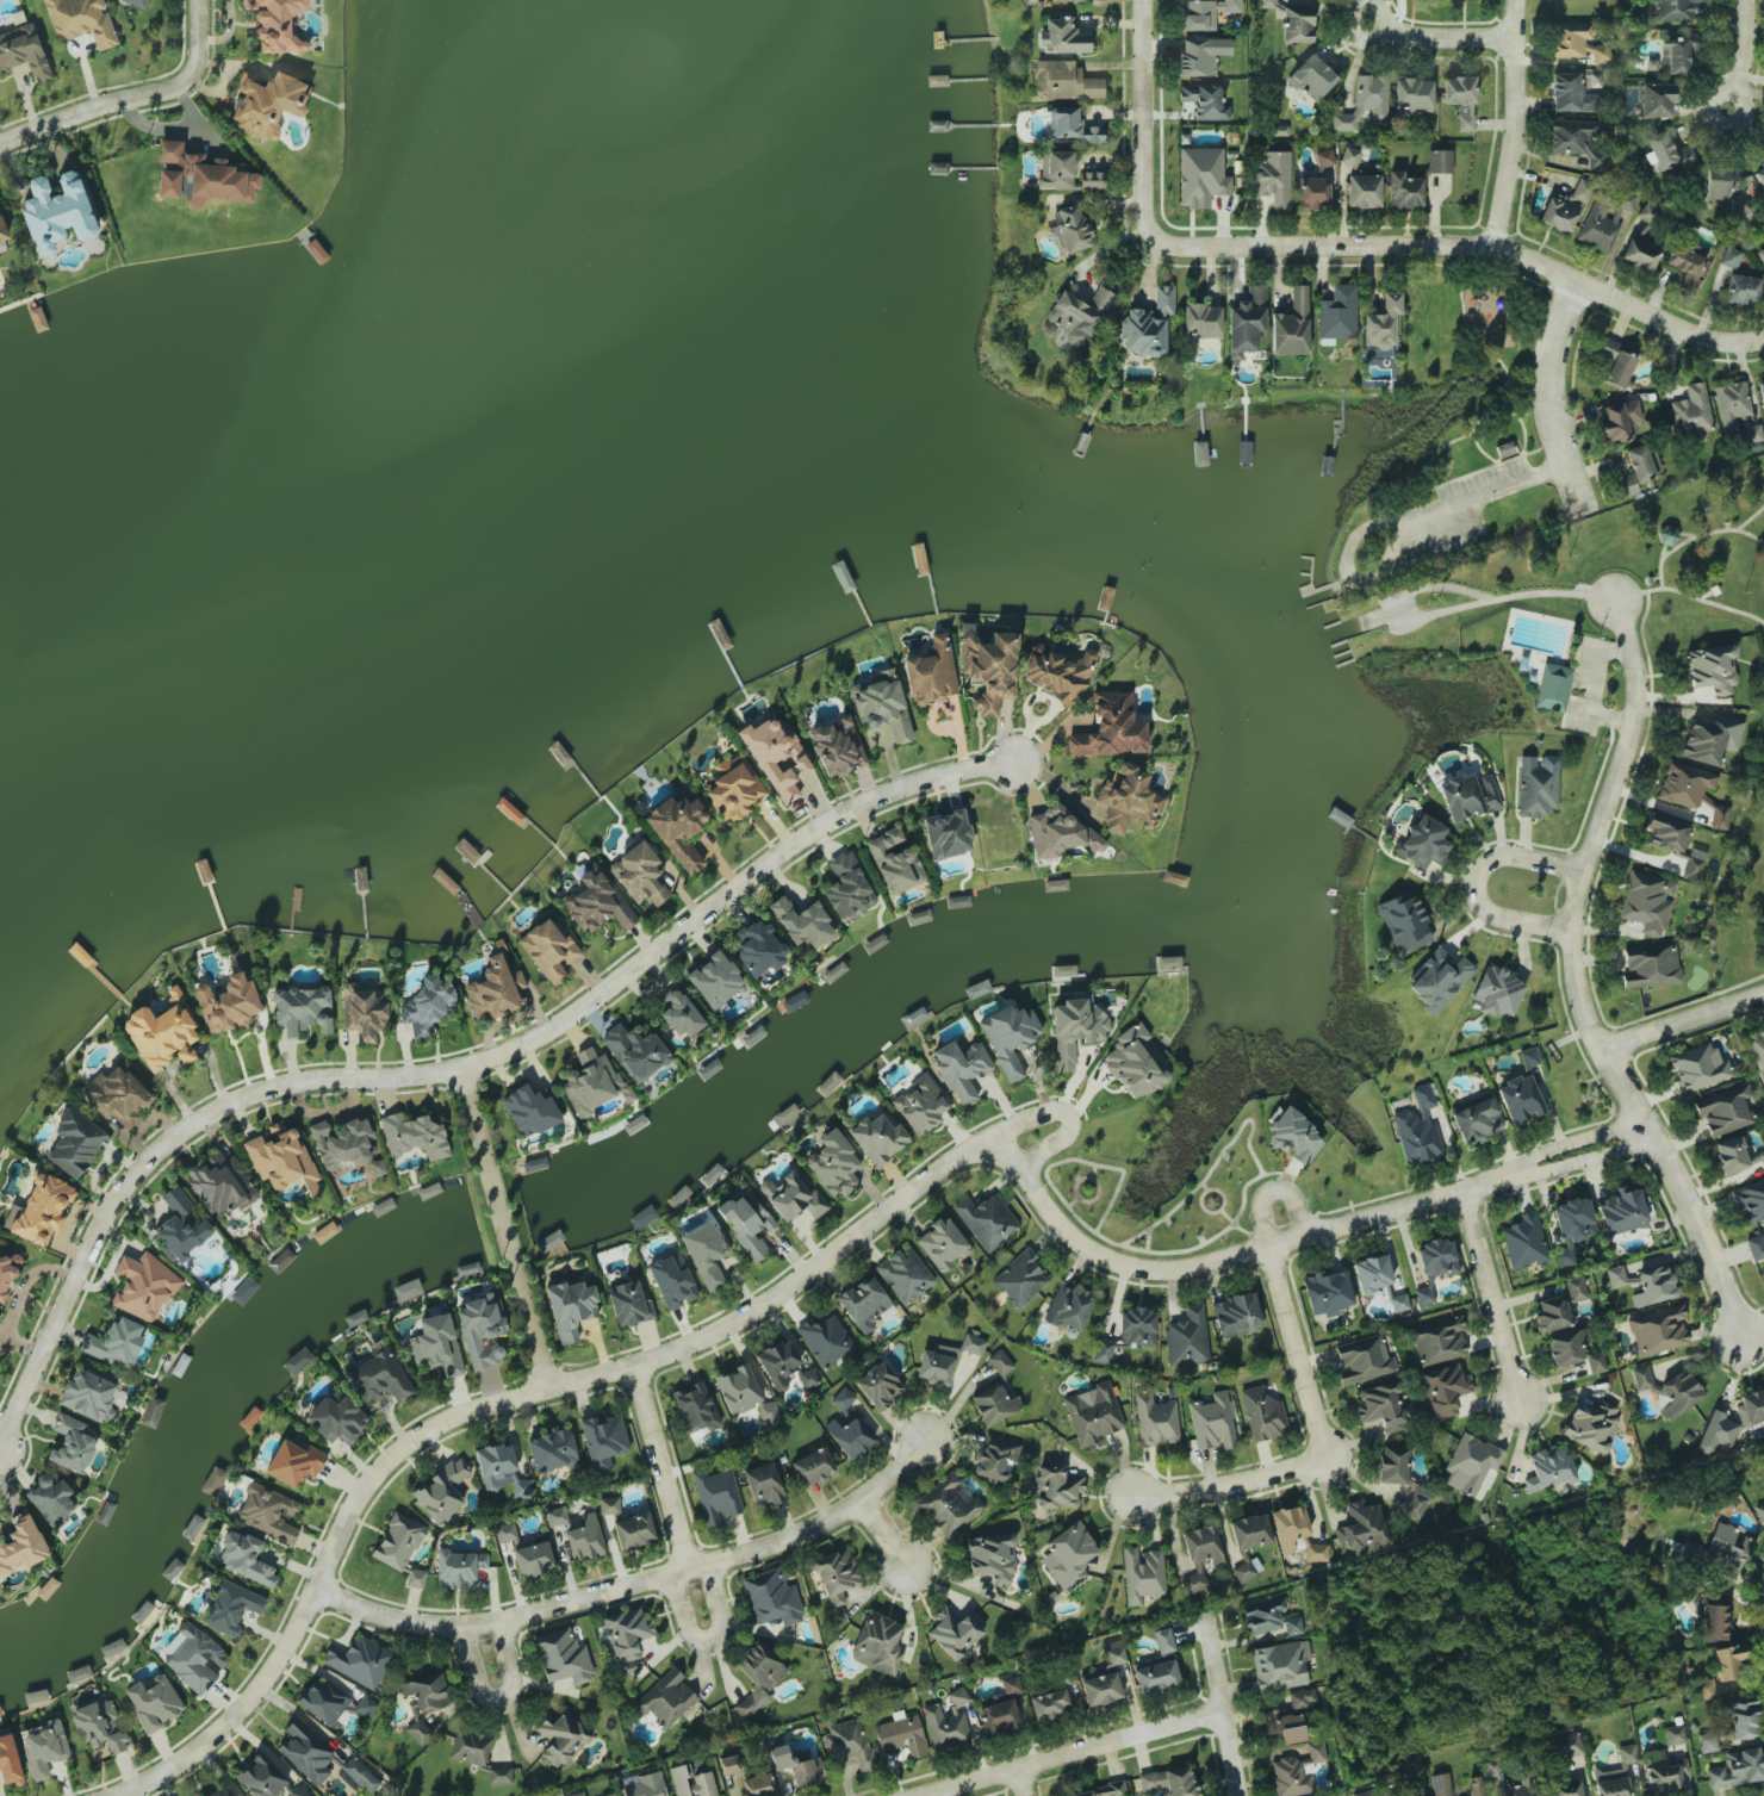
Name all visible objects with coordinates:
building: (1068, 0)
building: (136, 2)
building: (1266, 4)
building: (1675, 10)
building: (1206, 12)
road: (1380, 15)
building: (81, 20)
building: (1297, 23)
building: (277, 24)
building: (1062, 36)
road: (1447, 38)
building: (1577, 43)
road: (1743, 48)
building: (23, 52)
building: (1201, 54)
building: (1675, 56)
building: (1311, 77)
building: (1064, 81)
building: (1369, 94)
building: (1412, 94)
road: (1722, 95)
road: (131, 98)
building: (1460, 99)
building: (1657, 100)
building: (1204, 101)
building: (268, 104)
road: (1141, 105)
building: (1343, 122)
building: (1072, 125)
road: (1509, 125)
building: (1670, 153)
building: (1350, 155)
building: (1323, 157)
building: (1759, 174)
building: (1201, 176)
building: (1273, 176)
building: (200, 178)
building: (1091, 180)
building: (1720, 185)
building: (1364, 191)
building: (1404, 191)
building: (1312, 192)
building: (1565, 206)
building: (57, 213)
building: (1598, 228)
building: (1070, 229)
building: (2, 231)
road: (1451, 246)
building: (1760, 254)
building: (1639, 255)
building: (1731, 257)
building: (1687, 265)
building: (1741, 290)
building: (1076, 315)
building: (1336, 315)
building: (1201, 321)
building: (1246, 322)
building: (1383, 323)
building: (1149, 324)
building: (1291, 325)
building: (1616, 363)
building: (1760, 391)
road: (1546, 396)
building: (1691, 410)
building: (1735, 410)
building: (1620, 421)
building: (1640, 467)
road: (1484, 492)
road: (1750, 518)
road: (1695, 537)
road: (1688, 597)
road: (1458, 605)
building: (964, 632)
building: (989, 669)
building: (1712, 669)
building: (933, 673)
building: (1061, 673)
road: (1595, 677)
building: (1553, 686)
building: (882, 704)
building: (950, 708)
road: (1609, 720)
building: (1112, 728)
building: (1709, 741)
building: (839, 746)
building: (777, 758)
building: (734, 790)
building: (1691, 791)
building: (1468, 796)
building: (1129, 797)
building: (681, 828)
building: (1061, 833)
building: (948, 834)
building: (1000, 840)
building: (1424, 843)
building: (1675, 843)
building: (896, 860)
building: (638, 871)
road: (1476, 882)
building: (850, 889)
road: (723, 893)
building: (1647, 901)
building: (597, 903)
building: (803, 922)
building: (1404, 922)
building: (757, 947)
building: (548, 951)
building: (1651, 965)
building: (714, 980)
building: (1439, 980)
building: (492, 990)
building: (1497, 992)
road: (1578, 992)
building: (795, 1000)
building: (229, 1003)
building: (429, 1005)
road: (1676, 1007)
building: (302, 1009)
building: (364, 1014)
building: (683, 1015)
road: (1681, 1021)
building: (1076, 1028)
building: (163, 1032)
building: (1010, 1037)
building: (638, 1052)
building: (1136, 1062)
building: (1697, 1067)
building: (961, 1070)
building: (831, 1080)
building: (595, 1082)
building: (123, 1093)
building: (1523, 1093)
building: (1423, 1098)
building: (919, 1105)
building: (532, 1110)
building: (1723, 1110)
road: (1066, 1115)
building: (1479, 1119)
building: (1294, 1135)
building: (1417, 1135)
building: (416, 1137)
building: (876, 1141)
building: (338, 1144)
building: (76, 1148)
building: (1735, 1155)
road: (150, 1157)
building: (282, 1163)
building: (834, 1164)
building: (378, 1167)
building: (220, 1183)
road: (1273, 1188)
building: (430, 1189)
building: (678, 1195)
building: (794, 1199)
building: (45, 1211)
building: (1623, 1213)
building: (642, 1217)
building: (987, 1220)
building: (746, 1224)
building: (181, 1226)
building: (1572, 1226)
road: (503, 1230)
road: (1297, 1236)
building: (548, 1241)
building: (1523, 1243)
building: (943, 1244)
building: (1756, 1247)
building: (706, 1255)
building: (1437, 1256)
building: (281, 1260)
building: (7, 1274)
building: (1373, 1274)
building: (905, 1275)
building: (1019, 1279)
building: (672, 1281)
building: (1644, 1284)
building: (144, 1287)
building: (244, 1289)
building: (406, 1289)
building: (1330, 1292)
building: (1426, 1293)
road: (1491, 1295)
building: (631, 1304)
building: (865, 1304)
building: (1070, 1307)
building: (571, 1309)
building: (1560, 1309)
building: (0, 1313)
building: (1236, 1315)
building: (1138, 1326)
building: (1660, 1329)
building: (480, 1332)
building: (1187, 1337)
building: (827, 1340)
building: (1437, 1341)
building: (114, 1344)
building: (973, 1344)
building: (436, 1347)
building: (1102, 1350)
building: (1576, 1353)
building: (1361, 1359)
building: (297, 1361)
building: (1000, 1362)
building: (937, 1365)
building: (785, 1366)
building: (379, 1379)
building: (880, 1385)
building: (1439, 1387)
building: (737, 1388)
building: (1672, 1391)
building: (88, 1396)
building: (843, 1399)
road: (499, 1402)
building: (994, 1403)
building: (1381, 1406)
building: (696, 1409)
building: (1754, 1409)
building: (151, 1411)
building: (768, 1413)
building: (1093, 1413)
building: (1262, 1413)
building: (250, 1417)
building: (336, 1419)
building: (1155, 1419)
building: (1212, 1422)
building: (1591, 1425)
building: (851, 1437)
building: (73, 1441)
building: (603, 1441)
road: (1321, 1447)
building: (552, 1449)
building: (995, 1459)
building: (297, 1462)
building: (1472, 1466)
building: (813, 1467)
building: (1552, 1469)
building: (501, 1471)
building: (1402, 1475)
building: (215, 1481)
building: (763, 1484)
building: (1056, 1487)
building: (442, 1490)
building: (715, 1496)
building: (52, 1500)
road: (667, 1502)
building: (949, 1503)
building: (609, 1505)
building: (107, 1509)
building: (269, 1512)
building: (555, 1516)
building: (1361, 1527)
building: (1291, 1528)
building: (633, 1530)
building: (505, 1531)
building: (1249, 1531)
road: (882, 1535)
building: (585, 1539)
building: (1203, 1545)
building: (1729, 1545)
building: (24, 1547)
building: (402, 1547)
building: (1316, 1552)
building: (1068, 1555)
building: (992, 1556)
building: (533, 1558)
building: (246, 1559)
building: (1247, 1567)
building: (459, 1568)
building: (1142, 1574)
building: (836, 1576)
road: (635, 1583)
building: (1193, 1583)
building: (772, 1597)
building: (231, 1607)
building: (1262, 1614)
building: (1713, 1616)
building: (1291, 1626)
building: (626, 1633)
building: (955, 1633)
building: (1163, 1640)
building: (878, 1645)
building: (1114, 1653)
building: (193, 1658)
building: (359, 1660)
building: (565, 1660)
road: (486, 1661)
building: (1728, 1661)
building: (1278, 1666)
building: (1156, 1676)
building: (758, 1678)
building: (1011, 1685)
building: (1100, 1689)
building: (1302, 1698)
building: (324, 1701)
building: (667, 1701)
building: (153, 1702)
building: (423, 1703)
building: (1048, 1704)
road: (1207, 1705)
building: (366, 1707)
building: (996, 1716)
building: (1744, 1720)
building: (946, 1721)
building: (101, 1726)
building: (901, 1734)
building: (1675, 1735)
building: (561, 1738)
building: (1707, 1741)
building: (1566, 1745)
building: (846, 1746)
building: (43, 1747)
building: (470, 1747)
building: (305, 1752)
road: (1057, 1752)
building: (779, 1754)
building: (8, 1760)
building: (728, 1765)
building: (1737, 1769)
building: (1297, 1771)
building: (806, 1772)
building: (361, 1775)
building: (499, 1775)
building: (1615, 1775)
building: (1665, 1776)
building: (261, 1777)
building: (1524, 1779)
building: (1150, 1781)
building: (691, 1782)
road: (1004, 1782)
building: (1180, 1782)
building: (645, 1784)
building: (1440, 1784)
building: (758, 1785)
building: (1474, 1785)
building: (1100, 1790)
building: (1567, 1790)
building: (222, 1792)
building: (300, 1792)
building: (576, 1794)
building: (1364, 1794)
building: (613, 1795)

